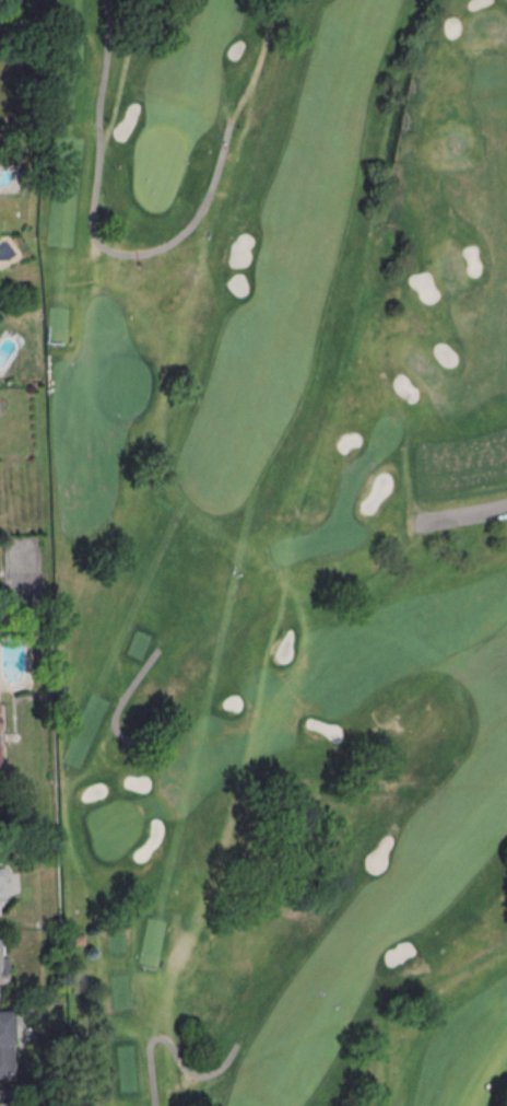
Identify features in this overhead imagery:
park: (487, 23)
park: (455, 144)
park: (157, 167)
park: (449, 271)
park: (422, 366)
park: (342, 515)
park: (278, 546)
building: (0, 755)
park: (114, 827)
building: (5, 885)
park: (325, 946)
building: (0, 975)
building: (4, 1046)
building: (4, 1098)

